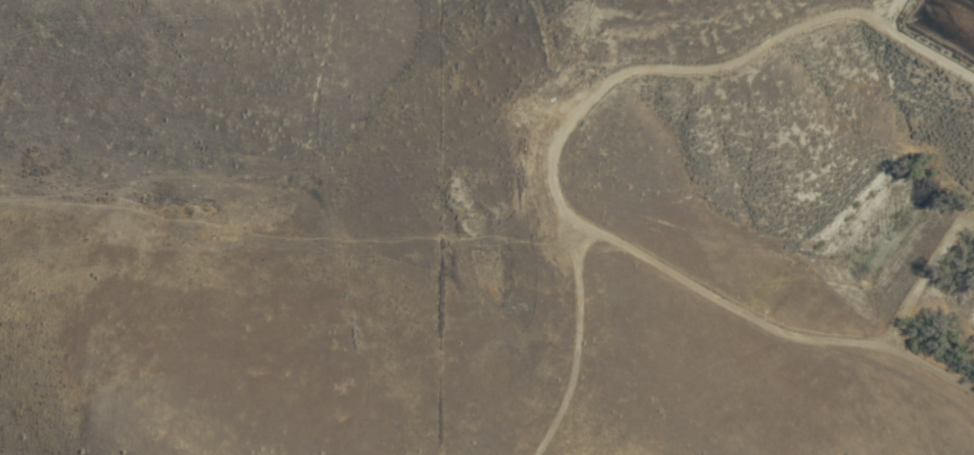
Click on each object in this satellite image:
road: (607, 233)
road: (578, 331)

